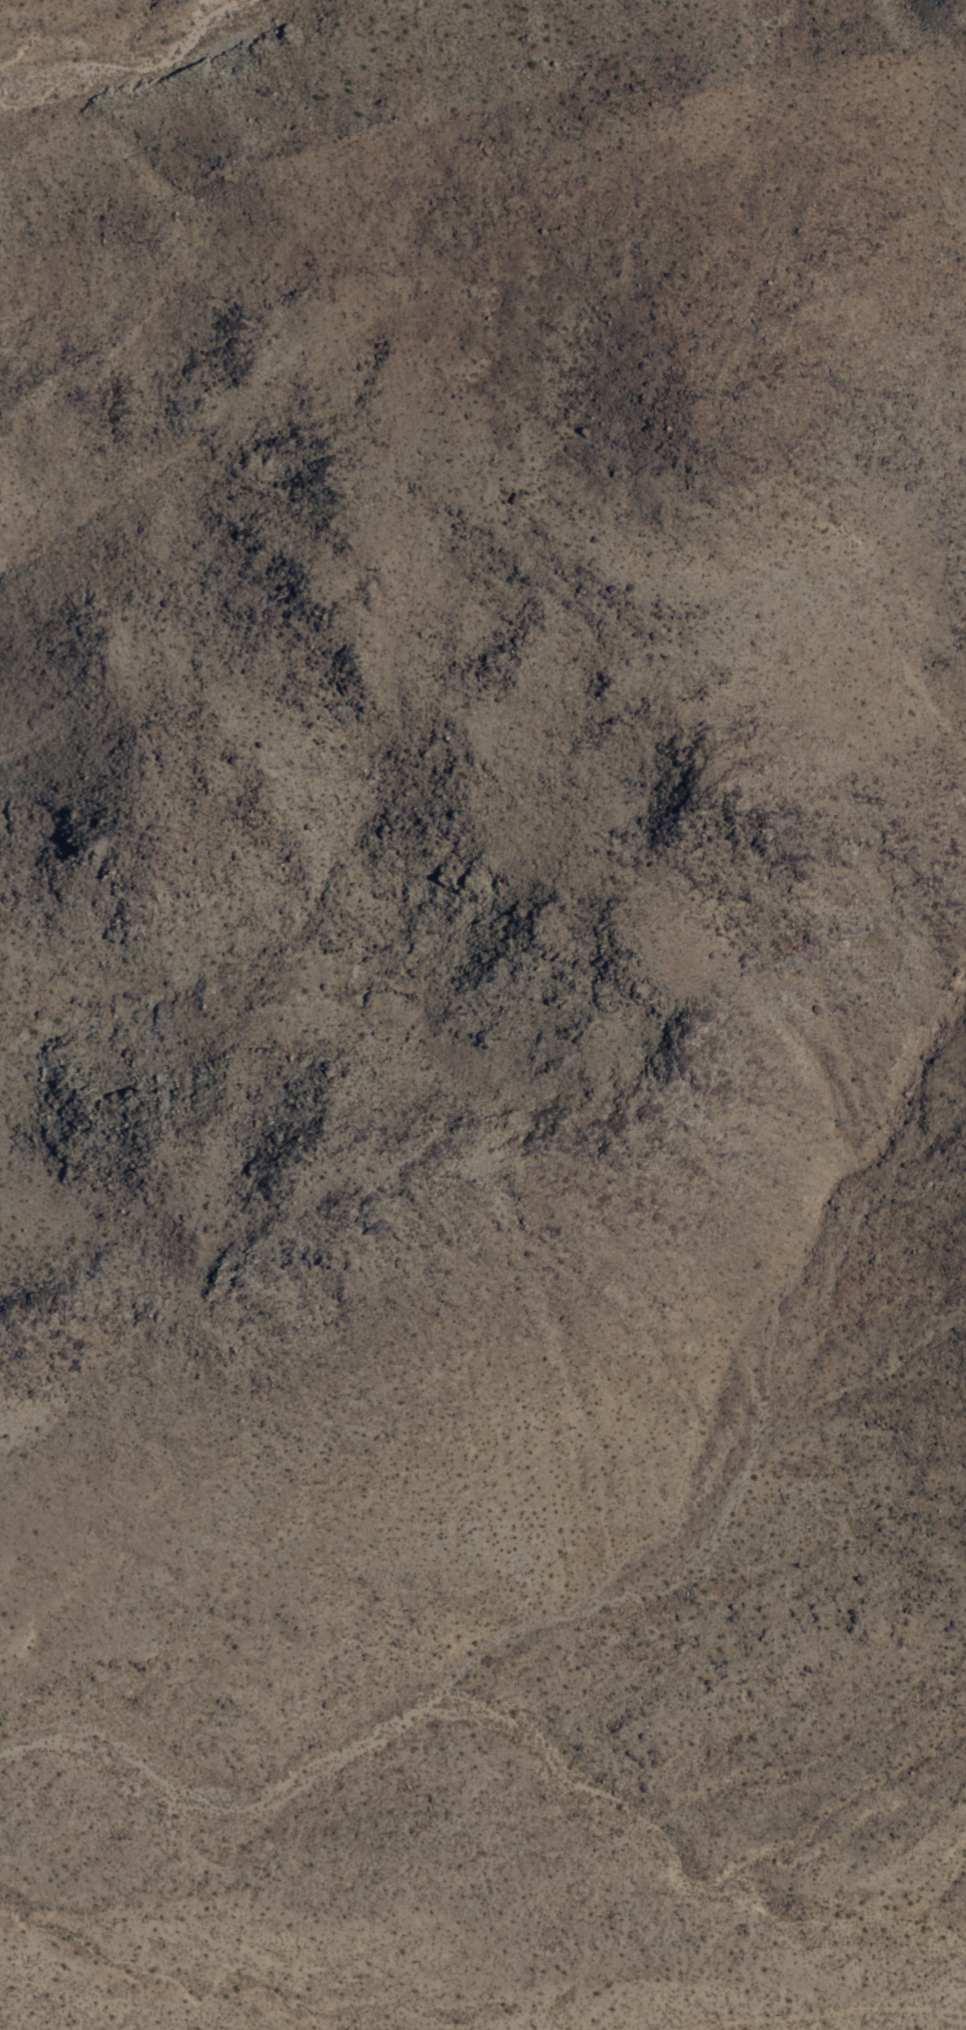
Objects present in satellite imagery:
road: (814, 2013)

